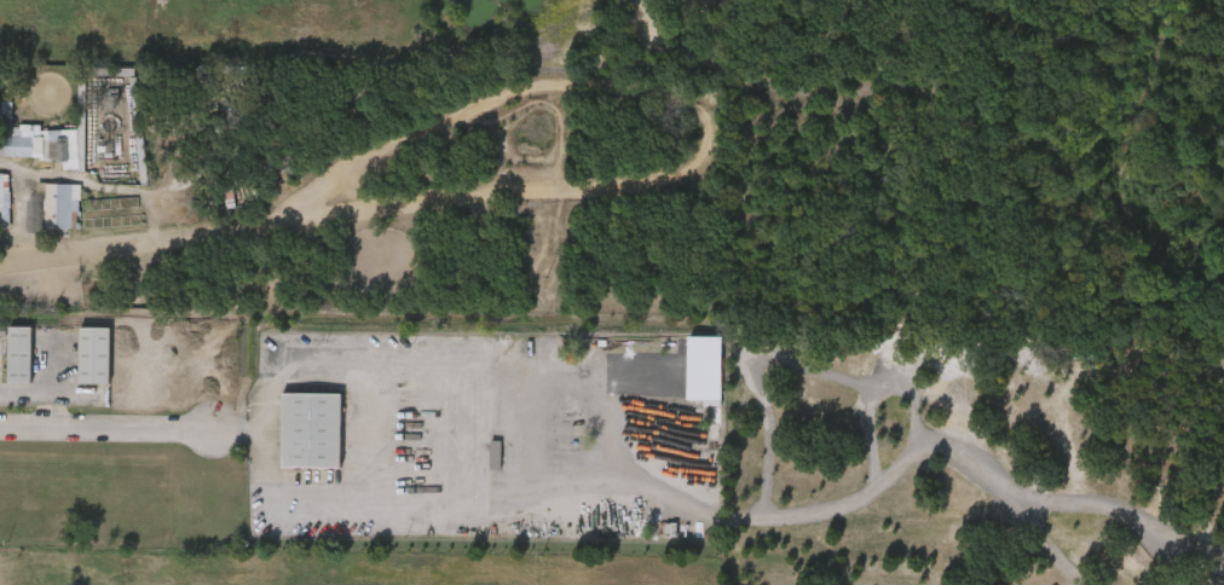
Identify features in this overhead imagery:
building: (11, 135)
building: (50, 147)
building: (0, 199)
building: (58, 205)
building: (45, 220)
building: (17, 353)
building: (91, 354)
building: (7, 369)
building: (76, 370)
road: (250, 376)
road: (27, 406)
building: (307, 428)
road: (97, 438)
road: (221, 444)
building: (478, 469)
road: (853, 505)
road: (1052, 550)

